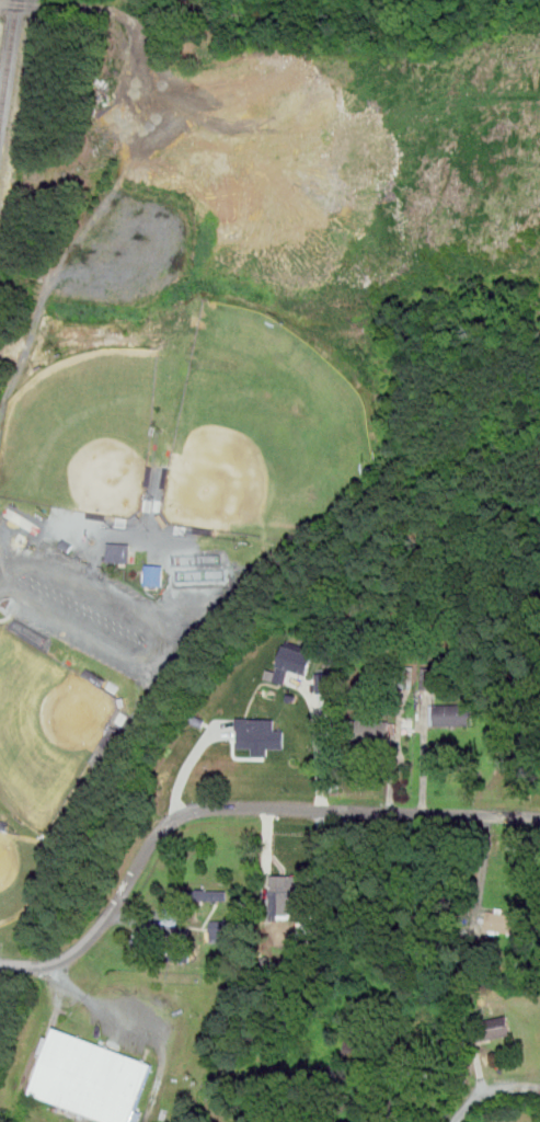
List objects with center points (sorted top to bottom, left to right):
railway: (9, 62)
road: (136, 164)
street lamp: (288, 322)
street lamp: (128, 332)
street lamp: (60, 350)
street lamp: (3, 392)
street lamp: (163, 428)
park: (265, 430)
park: (83, 432)
street lamp: (382, 469)
street lamp: (54, 515)
street lamp: (114, 526)
street lamp: (188, 535)
street lamp: (256, 543)
building: (68, 545)
building: (119, 551)
road: (5, 553)
road: (5, 570)
building: (156, 574)
street lamp: (1, 619)
road: (164, 650)
building: (294, 663)
building: (430, 678)
street lamp: (108, 680)
building: (324, 685)
building: (453, 714)
building: (371, 730)
park: (47, 731)
street lamp: (123, 734)
building: (262, 734)
road: (233, 811)
street lamp: (18, 829)
street lamp: (54, 841)
park: (23, 871)
building: (286, 890)
building: (212, 894)
building: (173, 917)
building: (507, 921)
building: (309, 929)
building: (223, 930)
building: (177, 953)
road: (67, 981)
road: (120, 1012)
building: (495, 1027)
building: (93, 1077)
road: (493, 1095)
building: (377, 1119)

